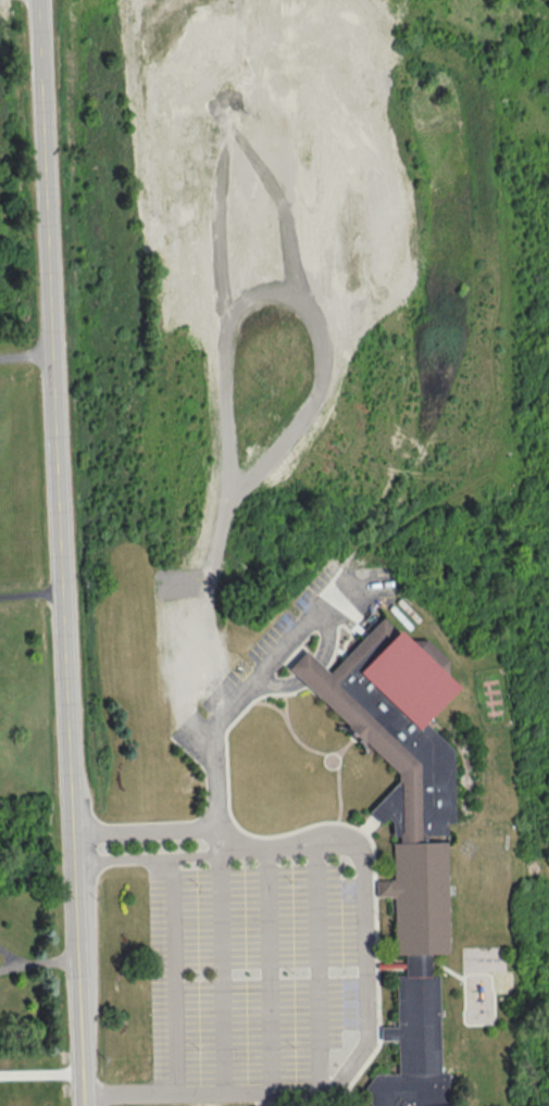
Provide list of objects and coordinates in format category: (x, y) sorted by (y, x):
road: (49, 98)
road: (29, 353)
road: (35, 591)
road: (335, 641)
road: (73, 650)
building: (313, 668)
road: (315, 671)
road: (288, 683)
road: (246, 700)
road: (159, 832)
building: (412, 832)
road: (88, 846)
road: (101, 854)
road: (167, 857)
road: (10, 956)
road: (42, 960)
road: (316, 970)
road: (271, 972)
road: (221, 978)
road: (179, 980)
parking lot: (263, 983)
road: (374, 1026)
road: (46, 1080)
road: (92, 1105)

